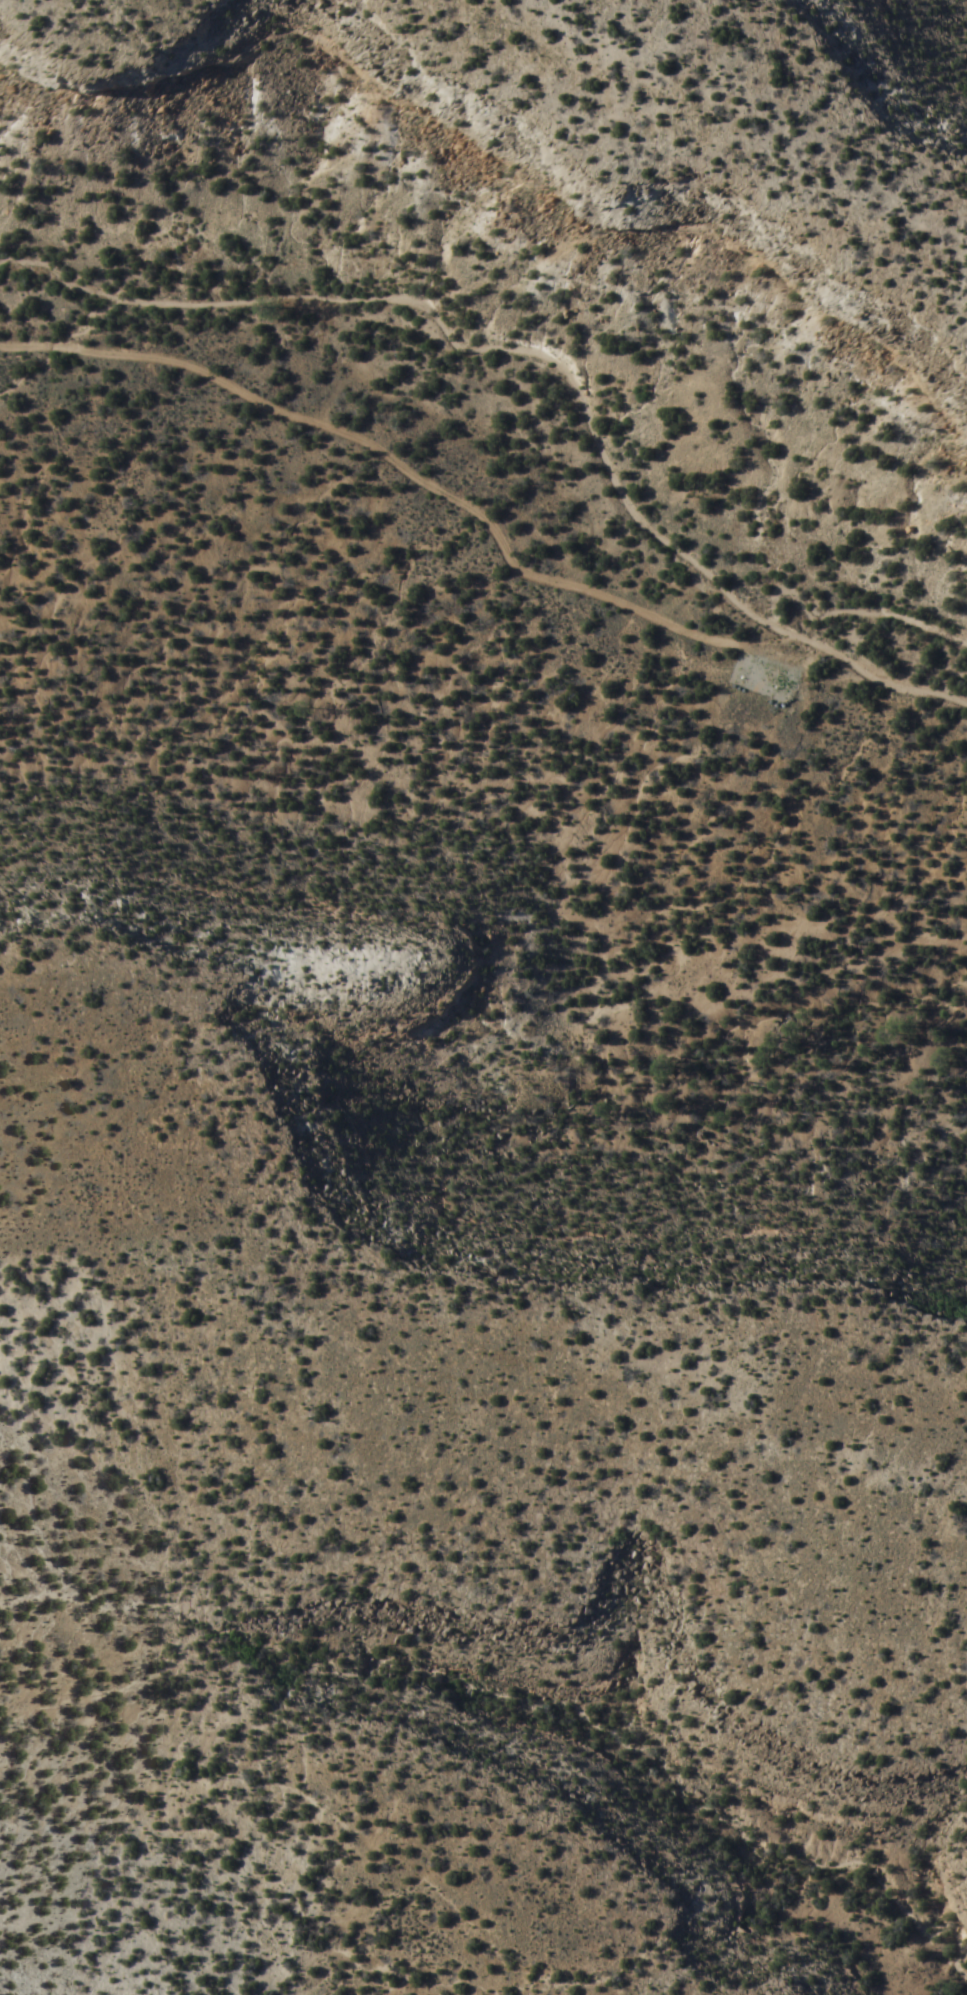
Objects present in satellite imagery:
road: (489, 527)

